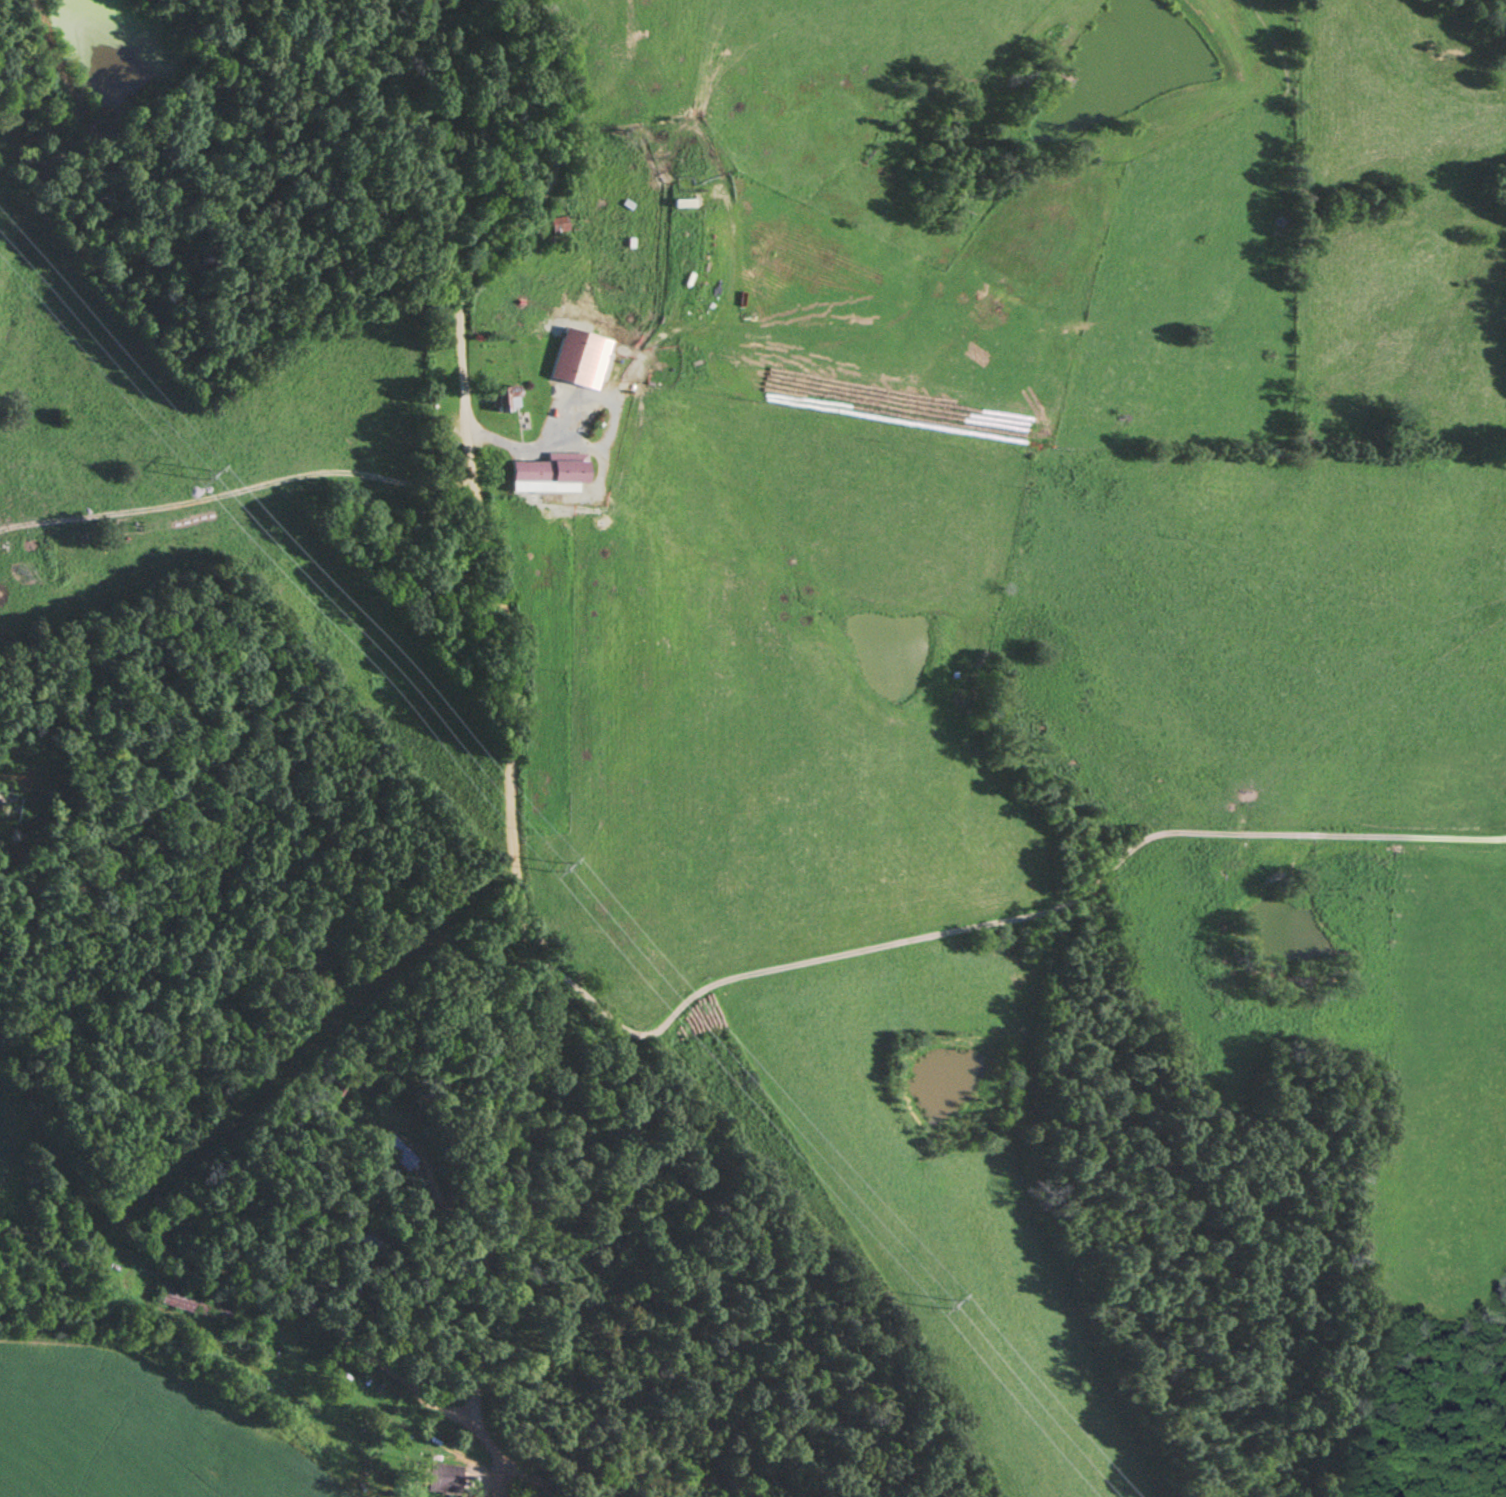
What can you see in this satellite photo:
building: (558, 224)
building: (508, 398)
power tower: (203, 471)
building: (550, 473)
road: (253, 495)
road: (496, 702)
power tower: (550, 863)
road: (972, 926)
building: (399, 1151)
road: (214, 1266)
power tower: (938, 1298)
building: (196, 1302)
road: (485, 1441)
road: (528, 1472)
road: (498, 1474)
building: (441, 1476)

